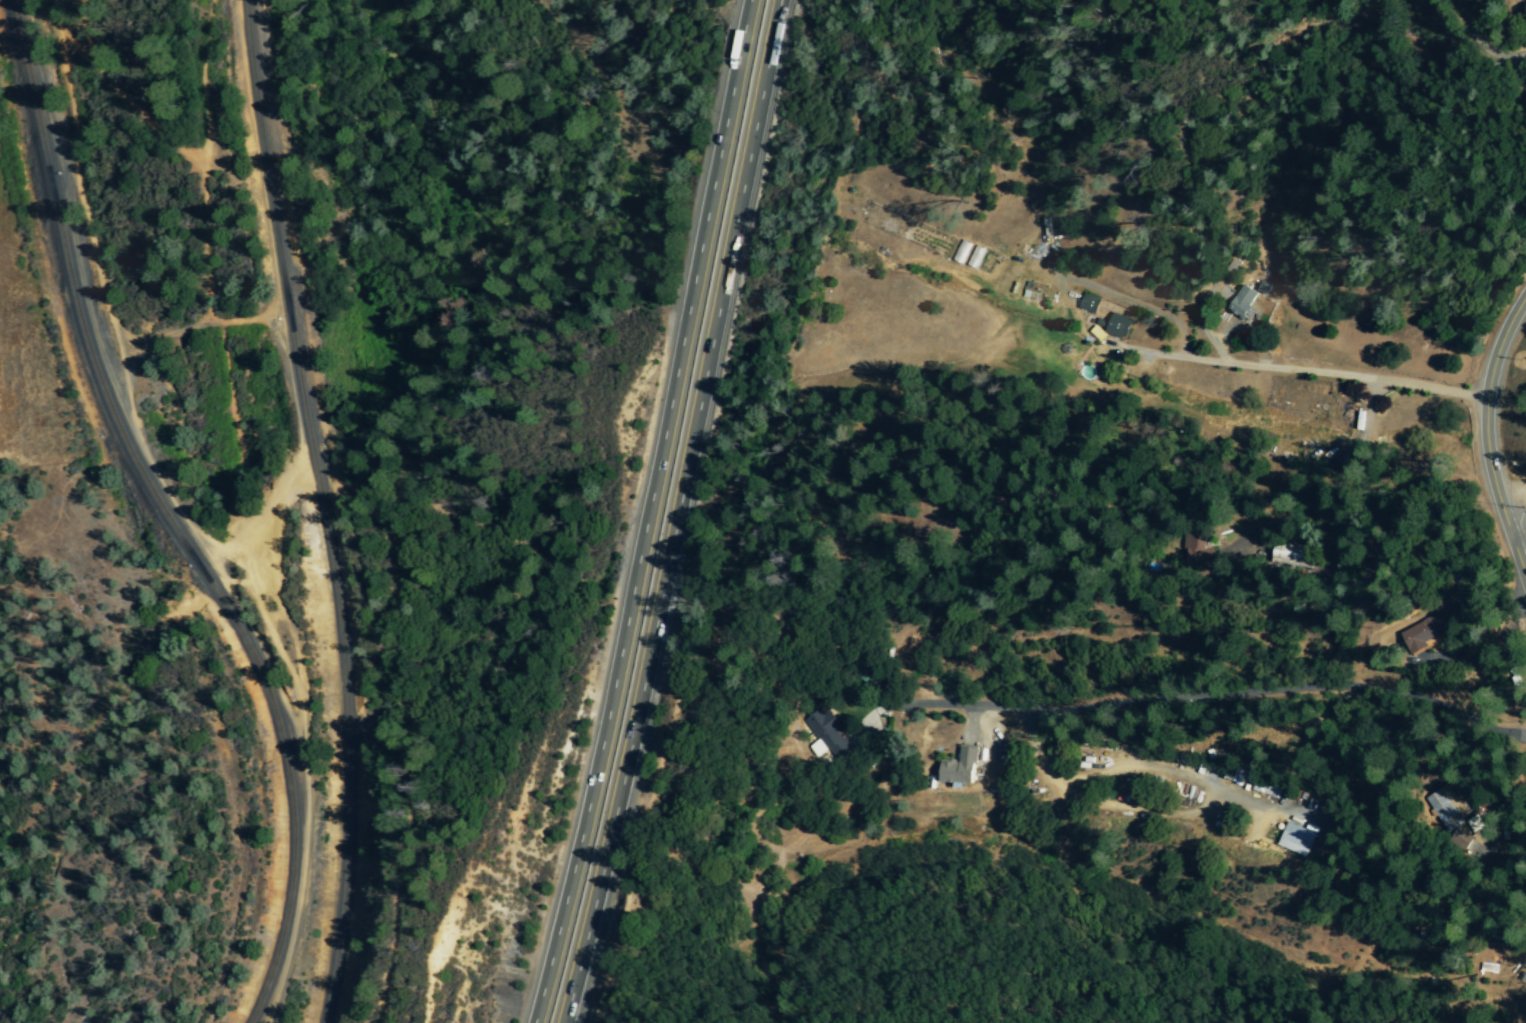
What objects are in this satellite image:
road: (1482, 40)
building: (1247, 299)
building: (1089, 303)
building: (1118, 326)
road: (1354, 381)
road: (1484, 438)
road: (1180, 443)
railway: (325, 509)
road: (649, 512)
road: (684, 512)
railway: (171, 515)
road: (1517, 534)
building: (1208, 548)
building: (1300, 555)
building: (1421, 637)
road: (1210, 699)
building: (825, 731)
building: (961, 768)
building: (1275, 787)
building: (1449, 809)
building: (1479, 832)
building: (1304, 841)

